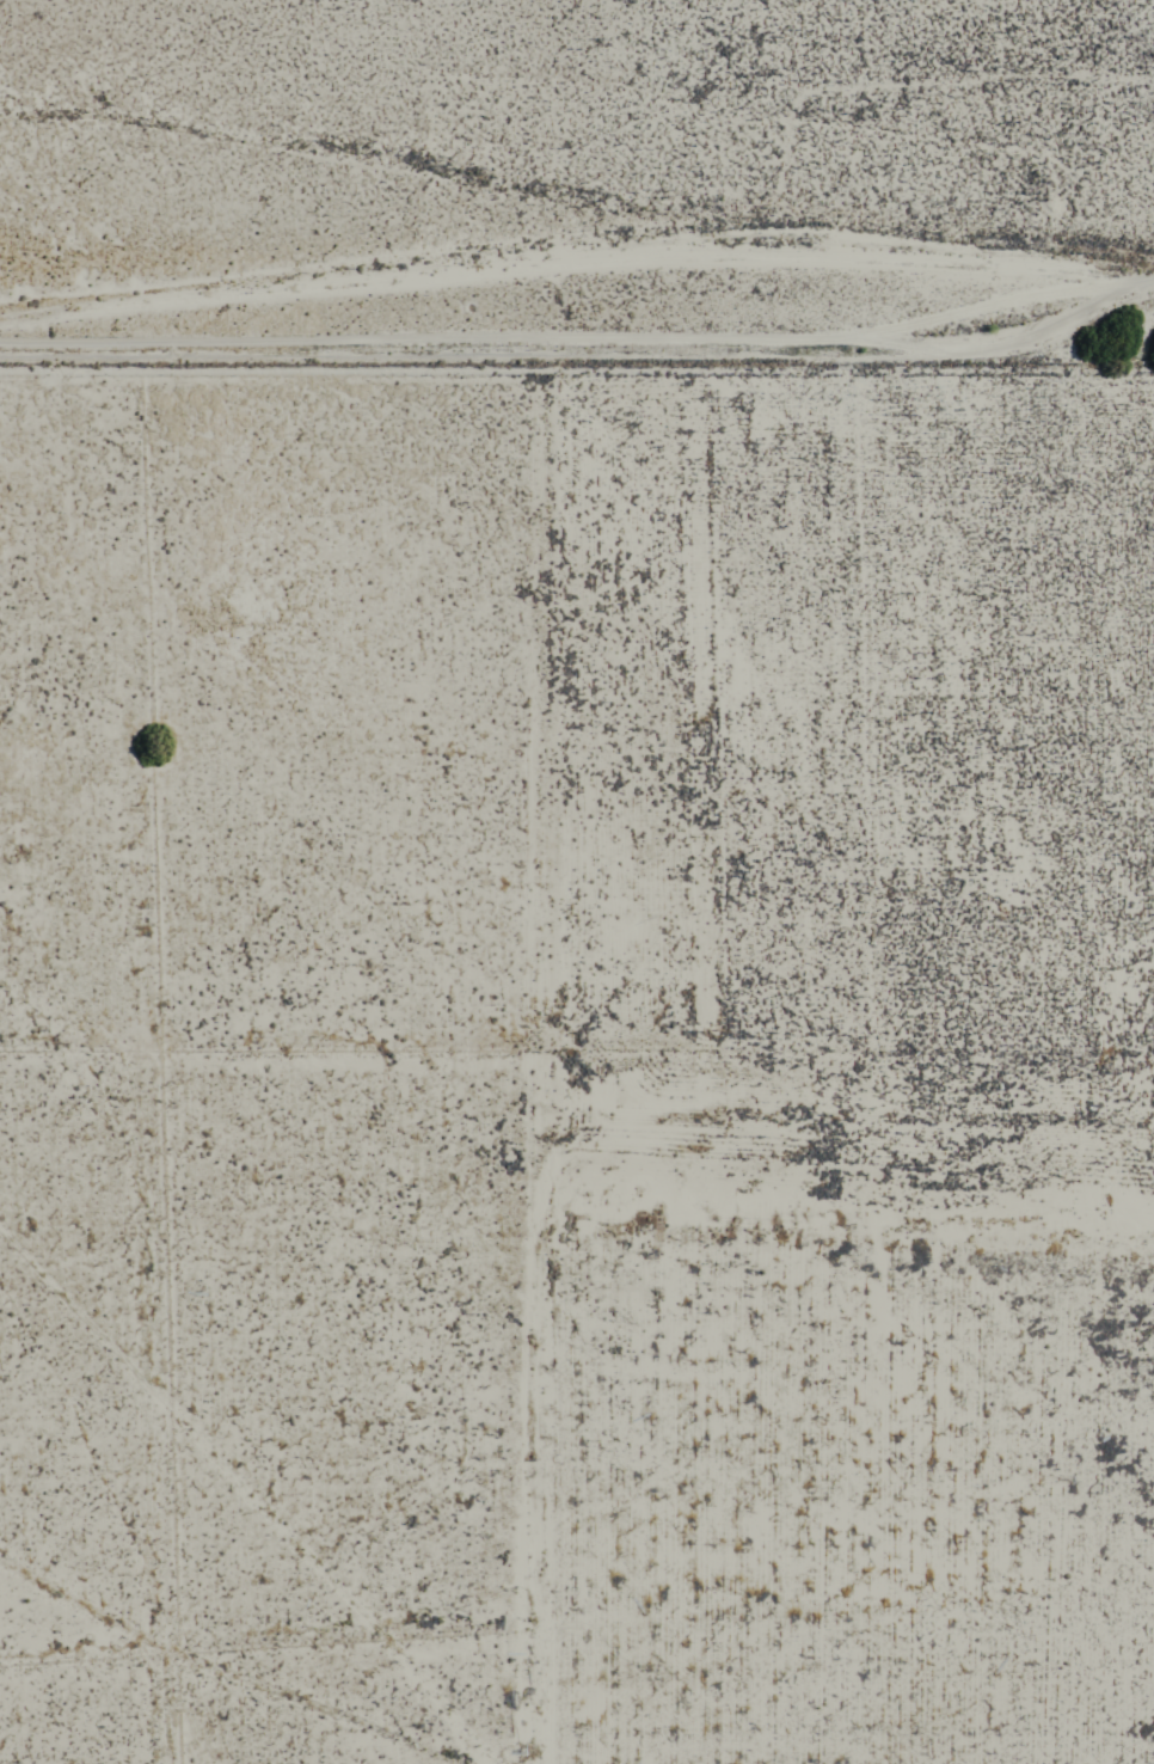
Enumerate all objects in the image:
road: (582, 339)

